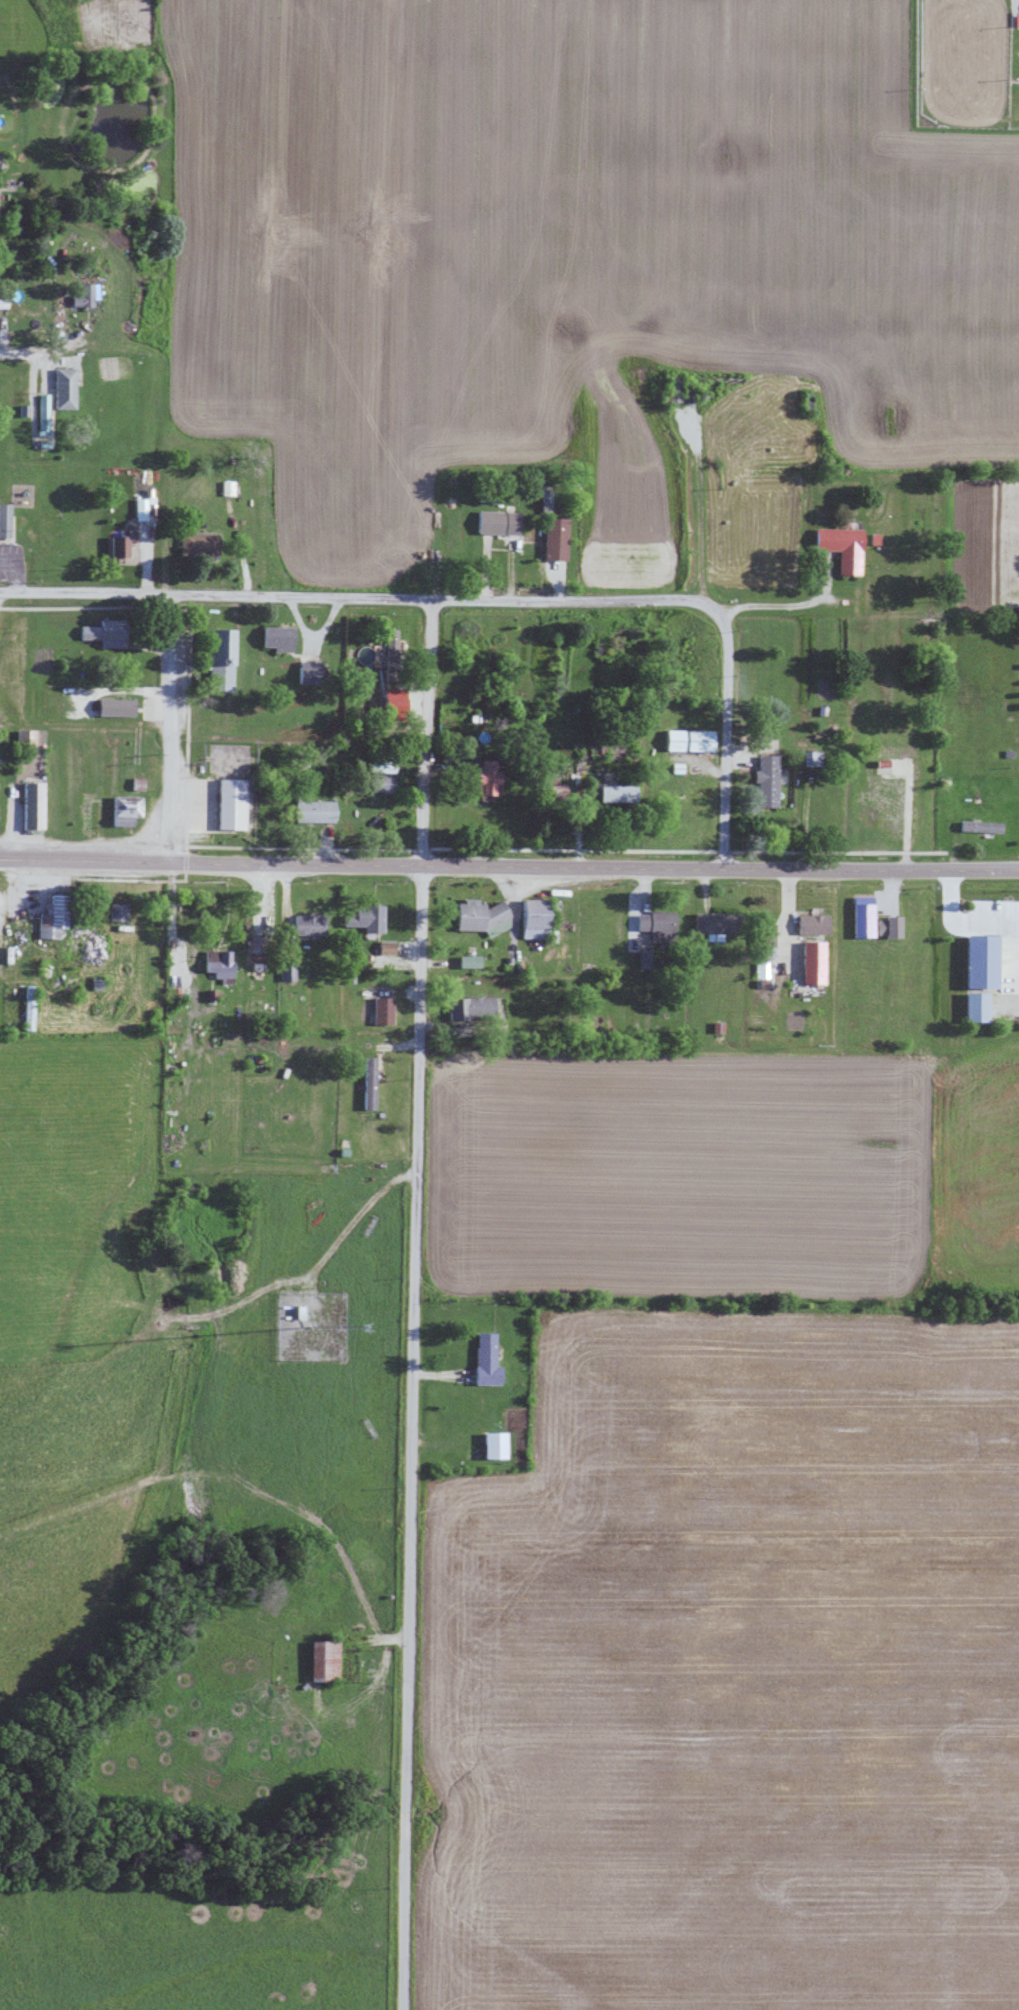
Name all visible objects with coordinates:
building: (84, 296)
building: (2, 303)
road: (17, 349)
building: (63, 388)
building: (42, 412)
building: (545, 501)
building: (139, 509)
building: (4, 520)
building: (497, 522)
building: (554, 539)
building: (197, 544)
building: (116, 547)
building: (840, 547)
road: (362, 595)
road: (789, 605)
building: (104, 633)
building: (276, 638)
building: (390, 648)
building: (218, 660)
building: (308, 672)
building: (113, 707)
road: (165, 727)
road: (424, 732)
building: (24, 737)
building: (688, 740)
road: (725, 741)
building: (379, 766)
building: (766, 780)
building: (484, 781)
building: (381, 783)
building: (617, 793)
building: (229, 804)
building: (31, 805)
building: (123, 810)
building: (312, 811)
building: (979, 827)
road: (509, 866)
building: (116, 912)
building: (52, 917)
building: (862, 917)
building: (533, 918)
building: (365, 920)
building: (654, 922)
building: (308, 924)
building: (811, 924)
building: (886, 926)
building: (764, 939)
building: (253, 944)
building: (385, 947)
building: (643, 959)
building: (468, 961)
building: (978, 962)
building: (811, 963)
building: (218, 964)
building: (286, 969)
building: (761, 970)
building: (27, 1007)
building: (974, 1007)
building: (470, 1009)
building: (381, 1011)
building: (368, 1083)
building: (484, 1359)
road: (410, 1438)
building: (492, 1445)
building: (322, 1659)

